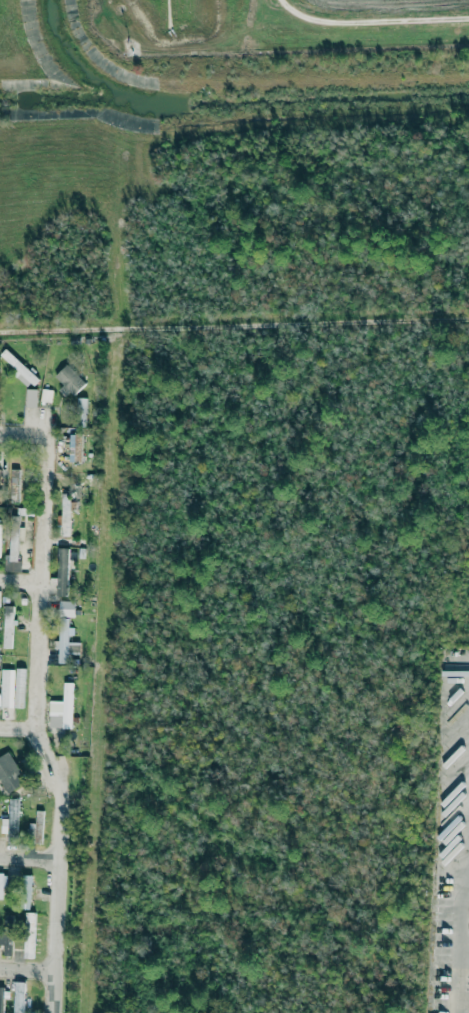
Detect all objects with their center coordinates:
road: (372, 19)
road: (234, 324)
building: (19, 369)
building: (69, 379)
building: (46, 397)
building: (31, 398)
building: (81, 409)
road: (23, 434)
building: (77, 447)
building: (66, 514)
building: (0, 538)
building: (13, 552)
building: (62, 571)
road: (20, 584)
building: (0, 598)
building: (66, 608)
building: (8, 626)
building: (65, 643)
building: (7, 688)
building: (62, 709)
road: (34, 727)
road: (17, 729)
building: (9, 774)
building: (13, 816)
building: (4, 825)
building: (36, 827)
road: (30, 859)
building: (3, 886)
building: (25, 891)
building: (29, 935)
building: (6, 943)
road: (459, 946)
road: (26, 969)
building: (18, 997)
building: (1, 999)

